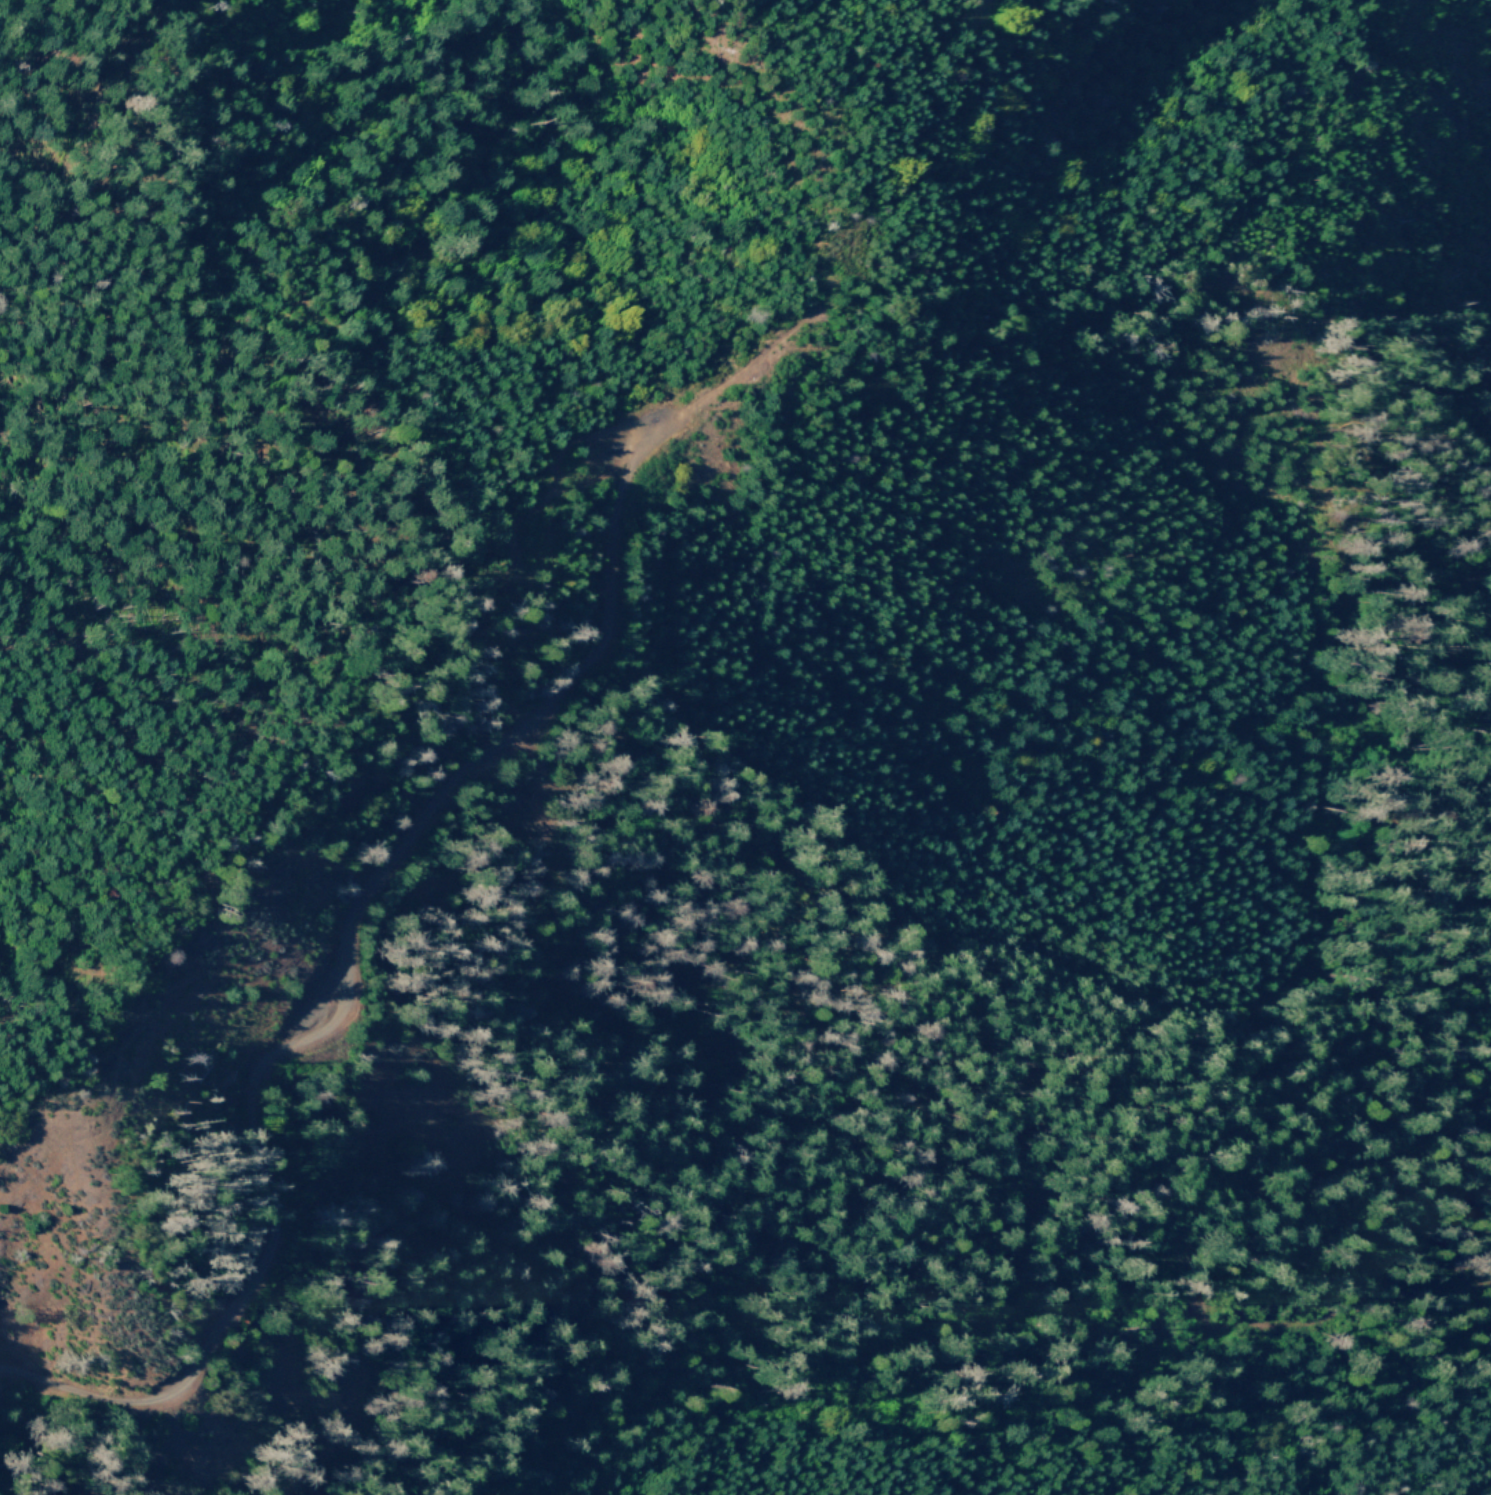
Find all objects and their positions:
road: (341, 971)
road: (1479, 1483)

